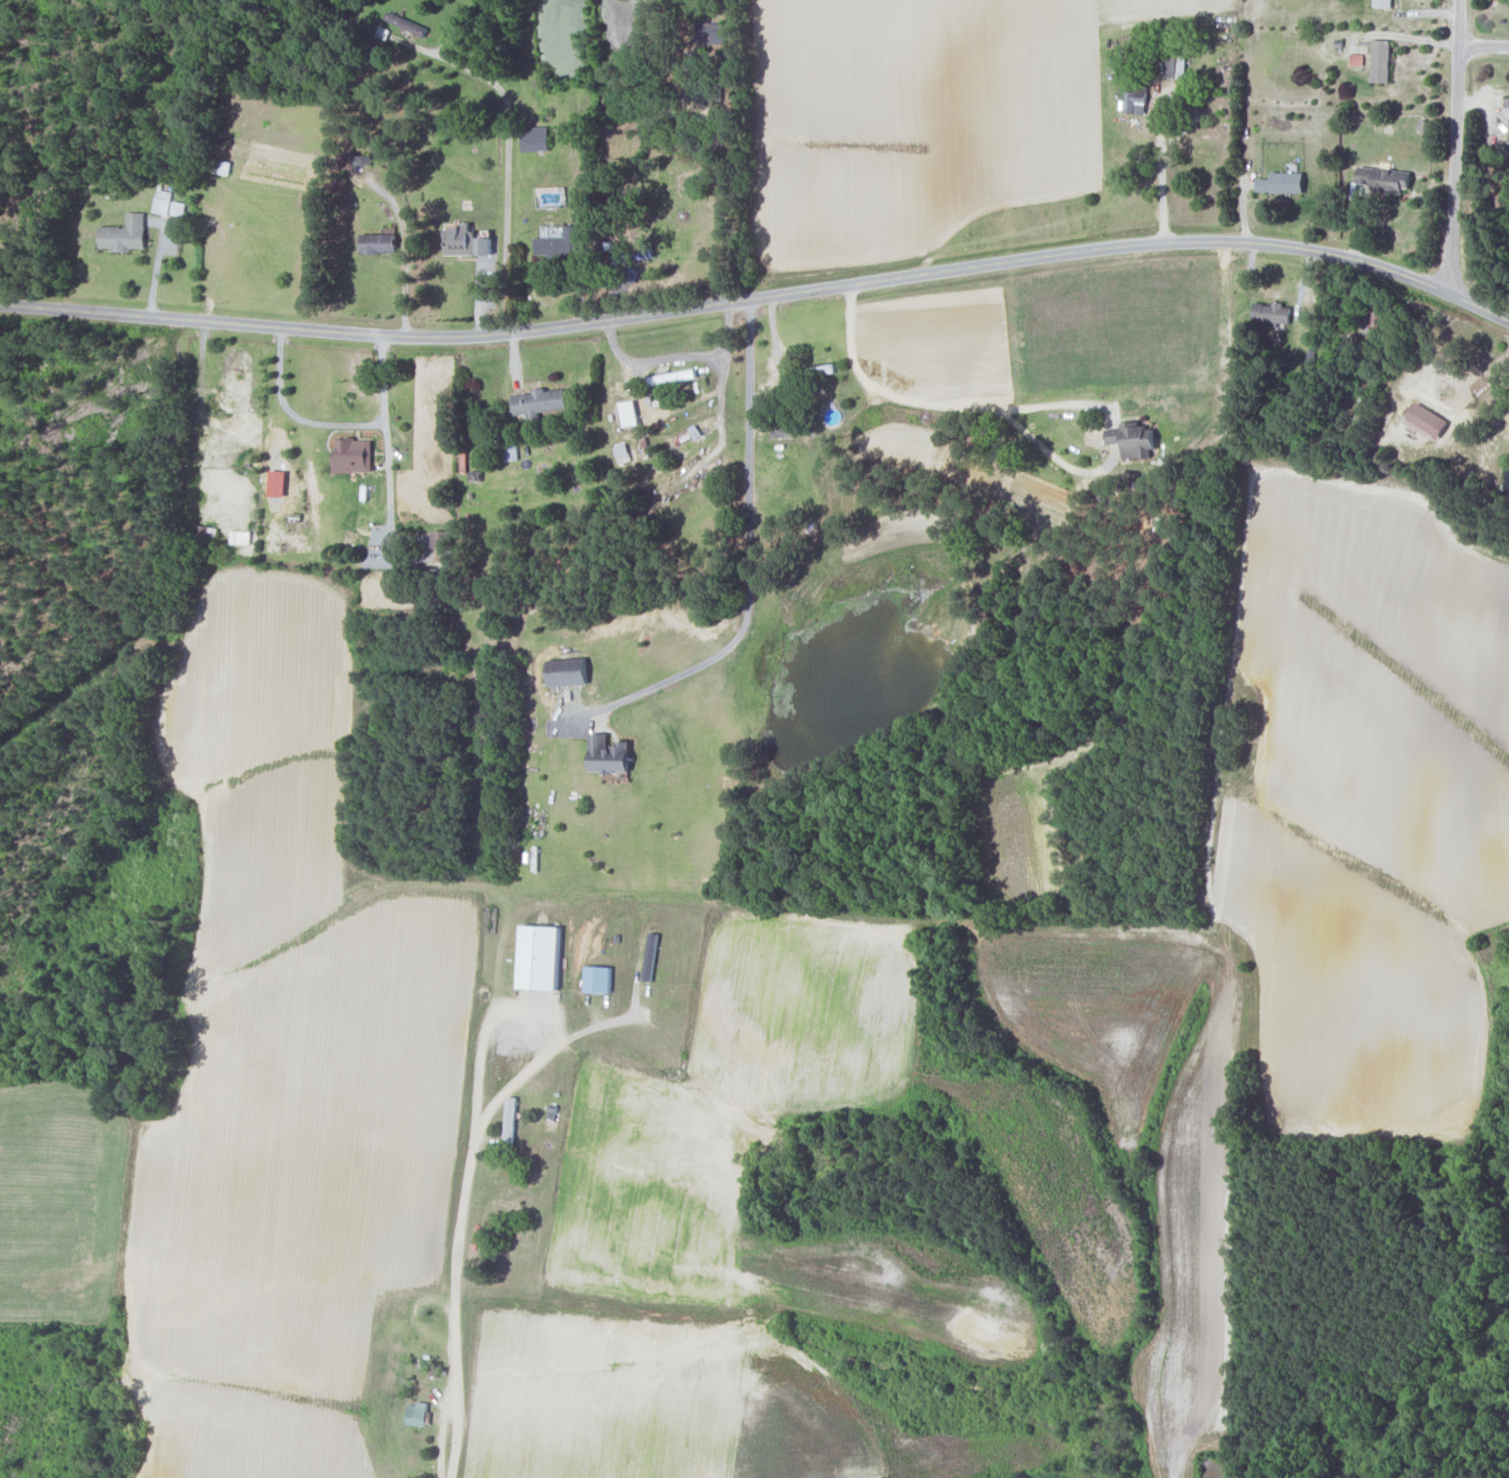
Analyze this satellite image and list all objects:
building: (1383, 3)
building: (711, 32)
road: (1483, 45)
building: (1381, 60)
building: (1175, 65)
building: (1136, 98)
building: (1507, 106)
building: (535, 138)
road: (1454, 144)
road: (732, 150)
road: (507, 152)
building: (360, 161)
road: (1162, 164)
building: (222, 167)
building: (1385, 179)
building: (1282, 182)
building: (162, 201)
building: (124, 233)
building: (459, 239)
building: (559, 241)
building: (378, 243)
building: (483, 245)
road: (158, 265)
road: (406, 278)
road: (760, 296)
building: (1272, 312)
road: (678, 356)
road: (1476, 374)
road: (383, 378)
road: (936, 401)
building: (538, 402)
building: (628, 413)
building: (1425, 421)
road: (349, 423)
building: (782, 429)
building: (1133, 439)
building: (511, 452)
building: (353, 455)
building: (239, 537)
building: (440, 539)
road: (748, 562)
building: (567, 671)
building: (608, 754)
building: (539, 958)
building: (598, 979)
building: (510, 1121)
road: (466, 1199)
building: (417, 1413)

